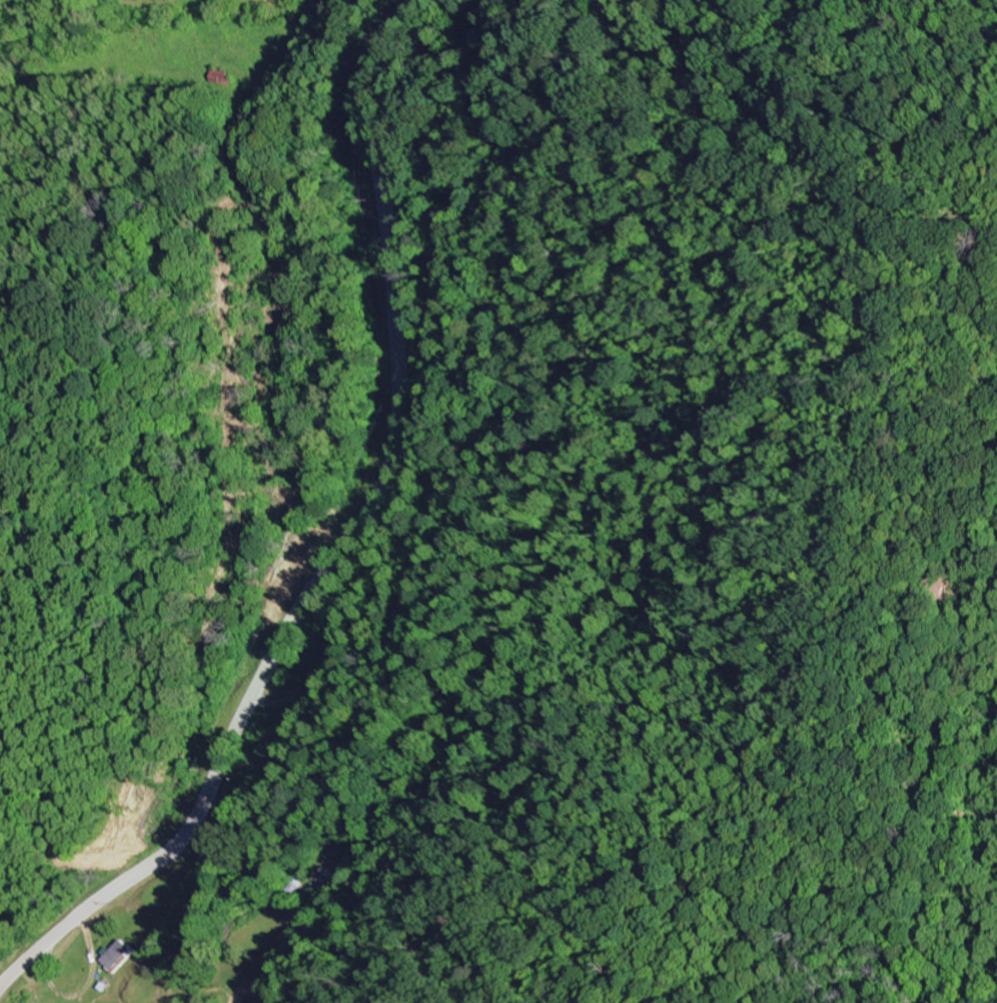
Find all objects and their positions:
road: (309, 10)
road: (345, 546)
building: (115, 955)

